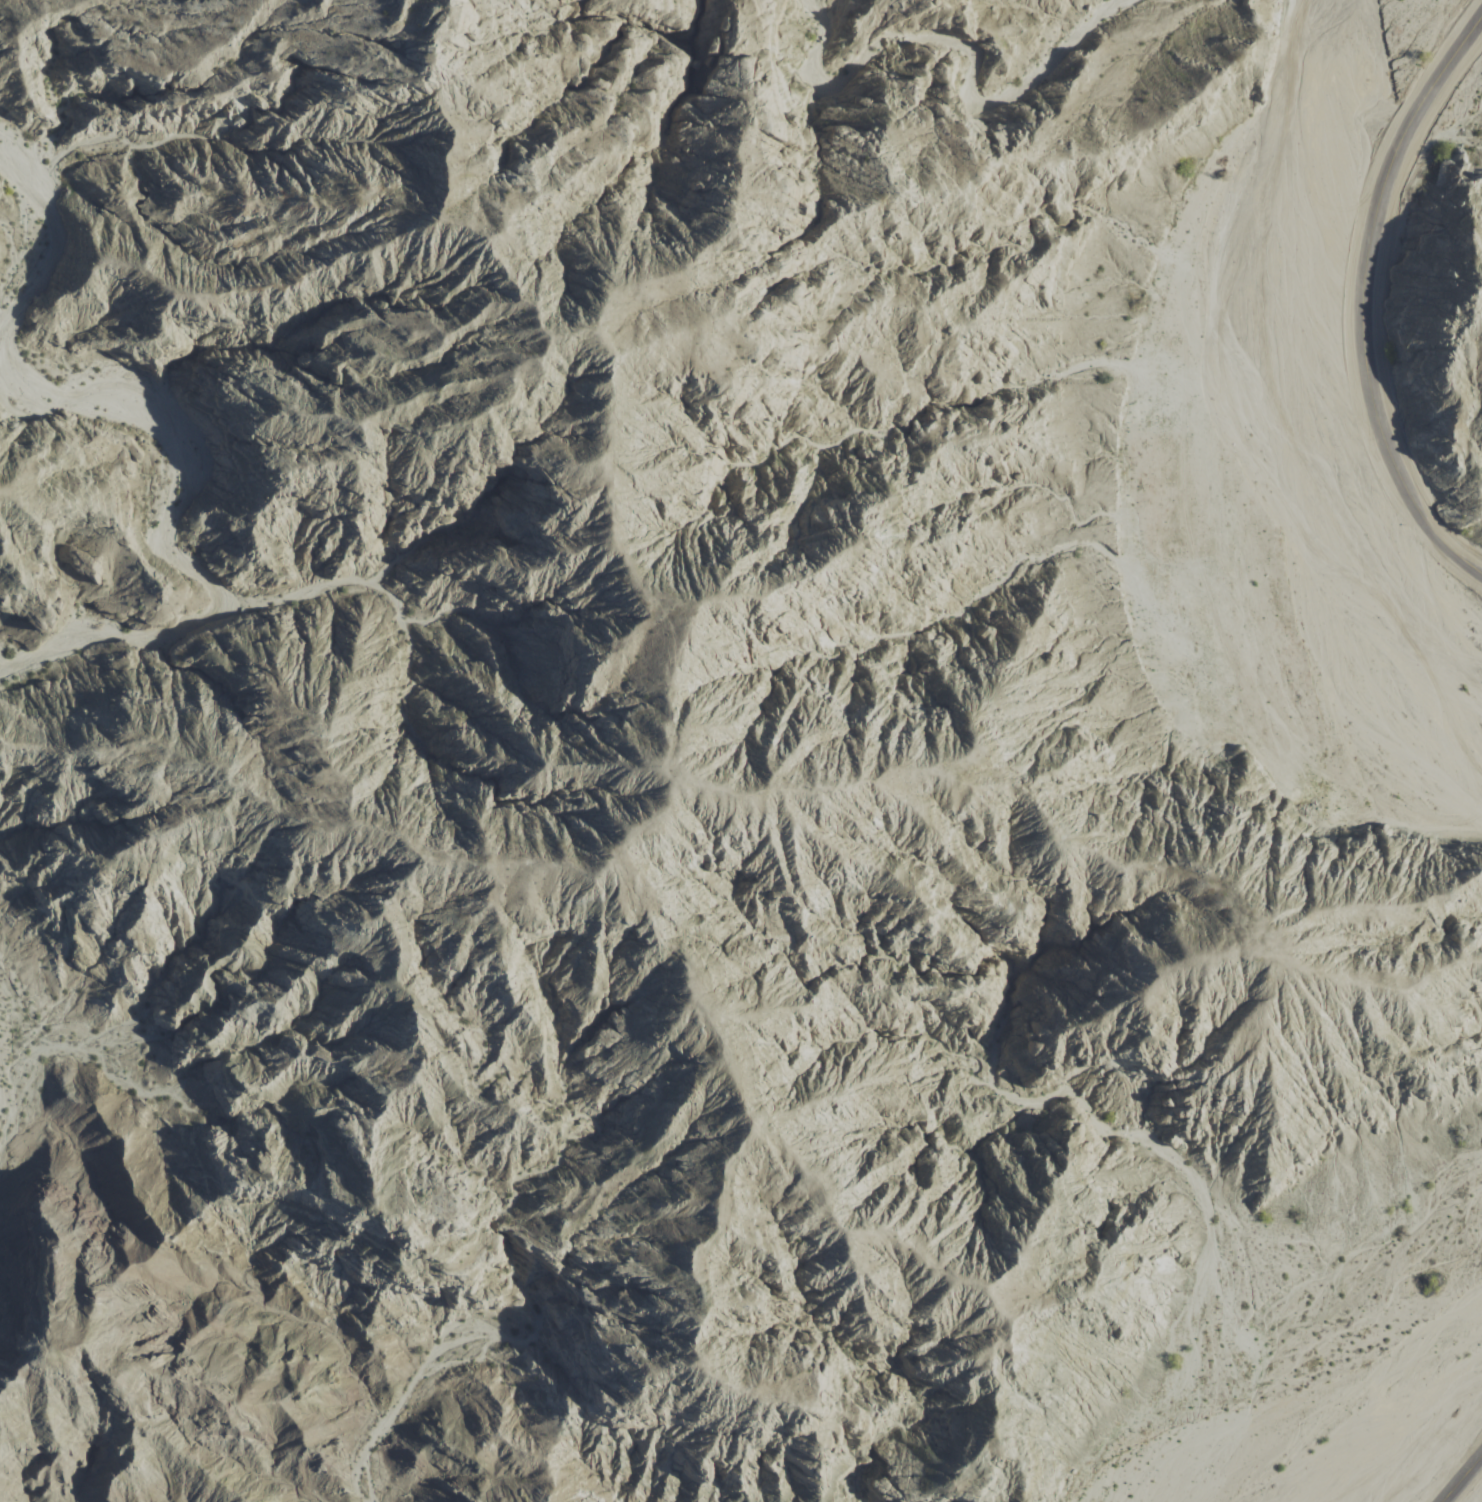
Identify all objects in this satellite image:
road: (1365, 297)
road: (1459, 1475)

